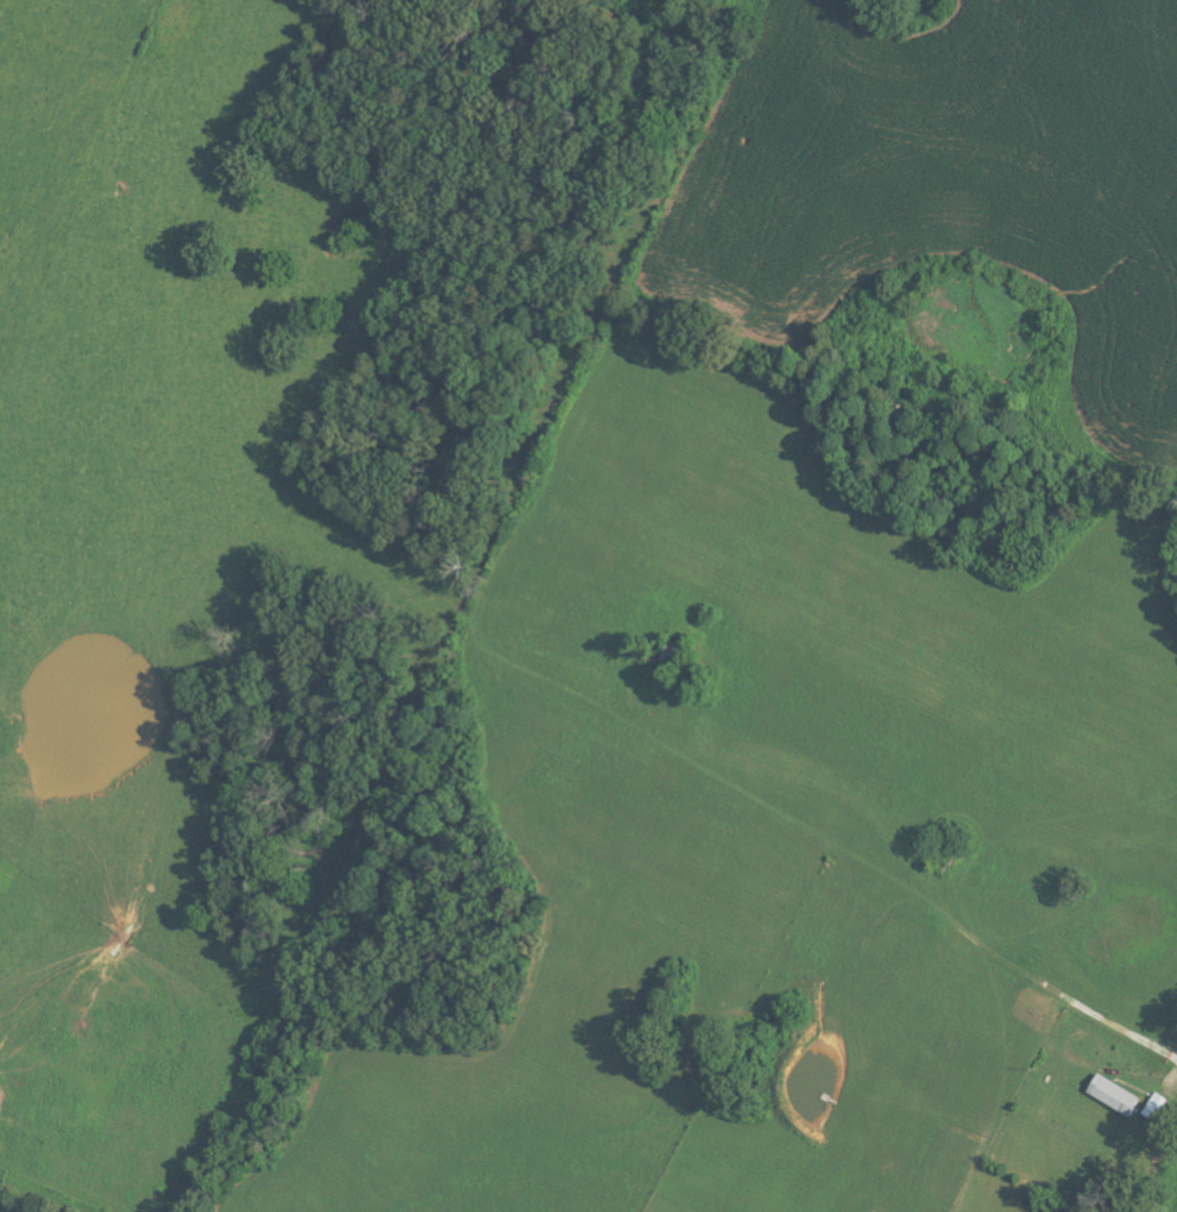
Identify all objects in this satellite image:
road: (1150, 1046)
building: (1119, 1096)

